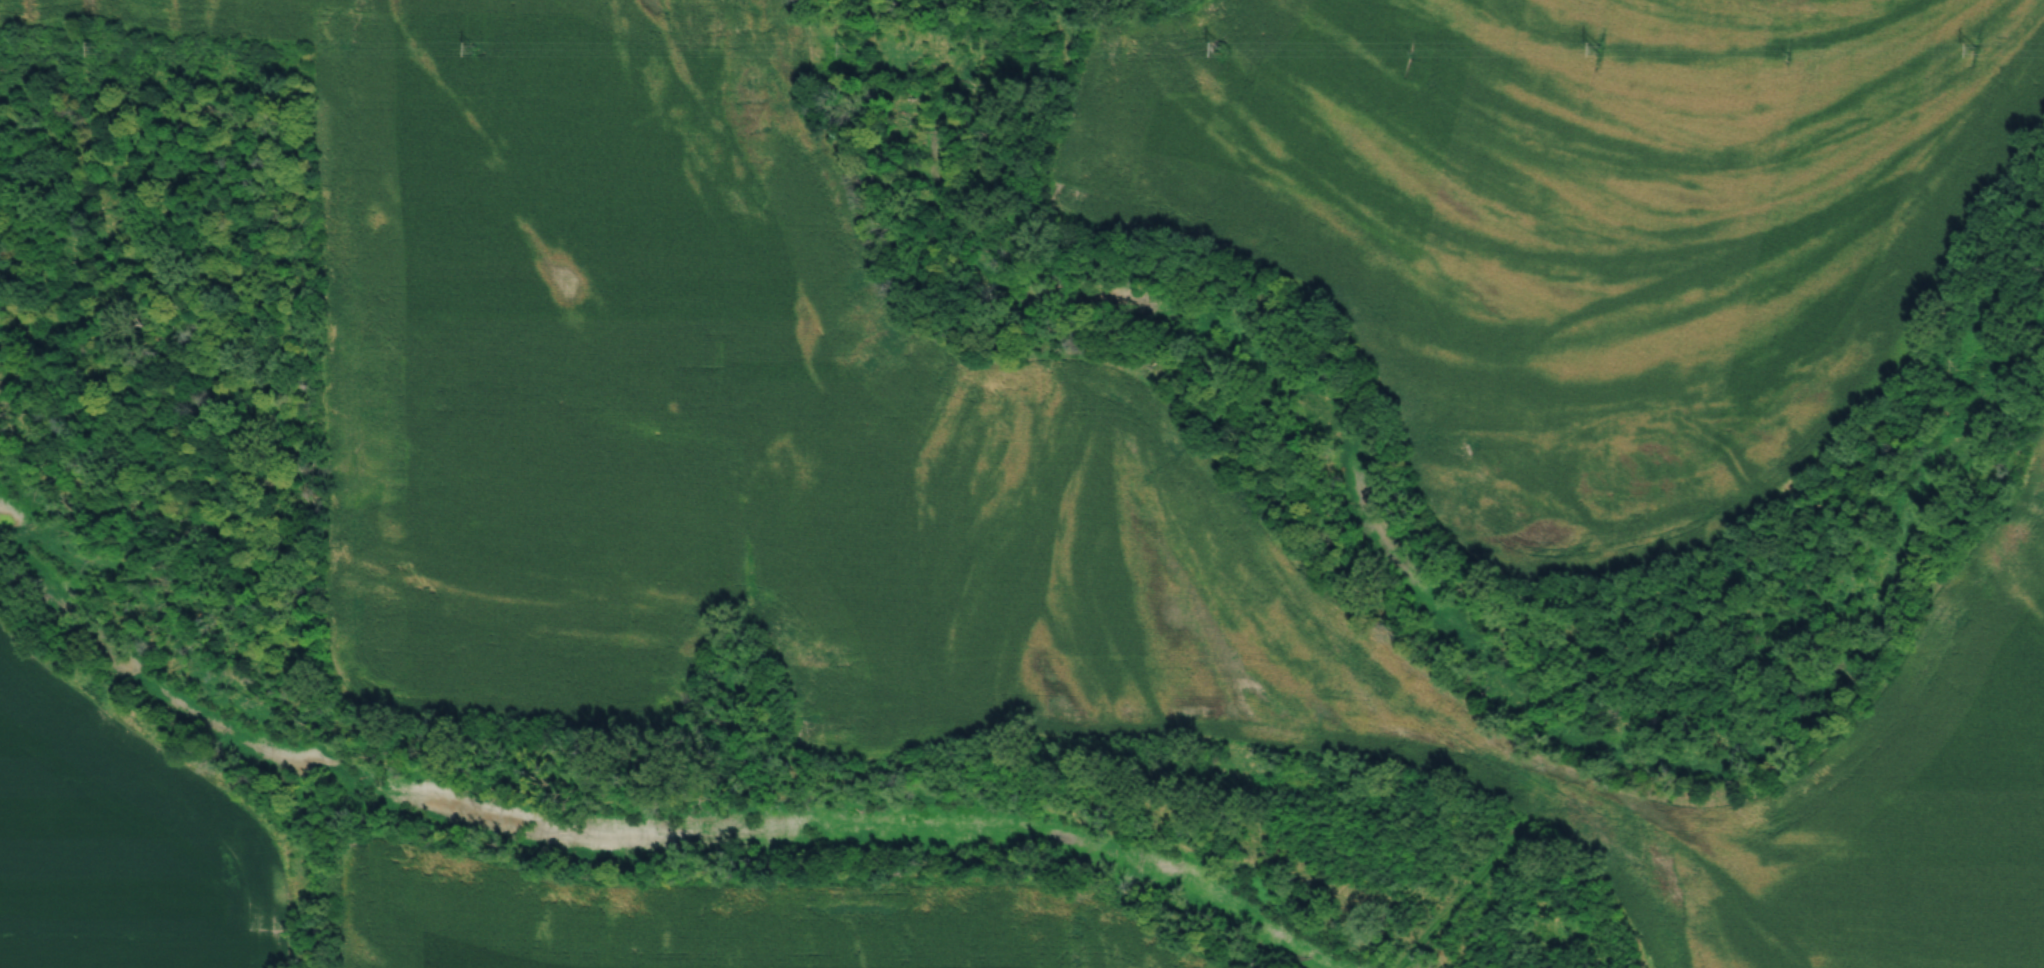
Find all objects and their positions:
power tower: (472, 47)
power tower: (847, 47)
power tower: (1974, 48)
power tower: (1602, 51)
power tower: (1225, 52)
power tower: (101, 53)

